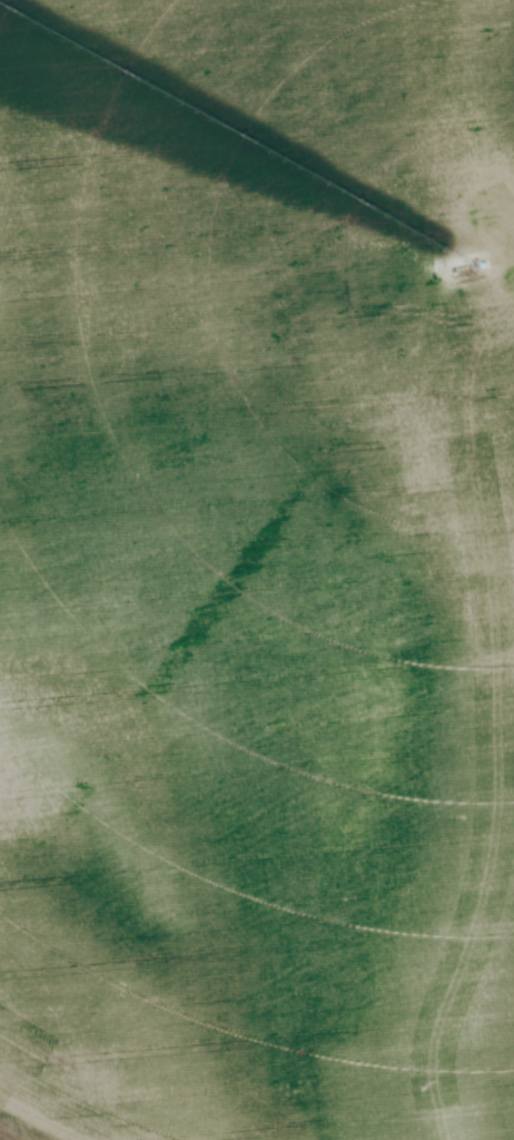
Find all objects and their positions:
crop: (257, 568)

